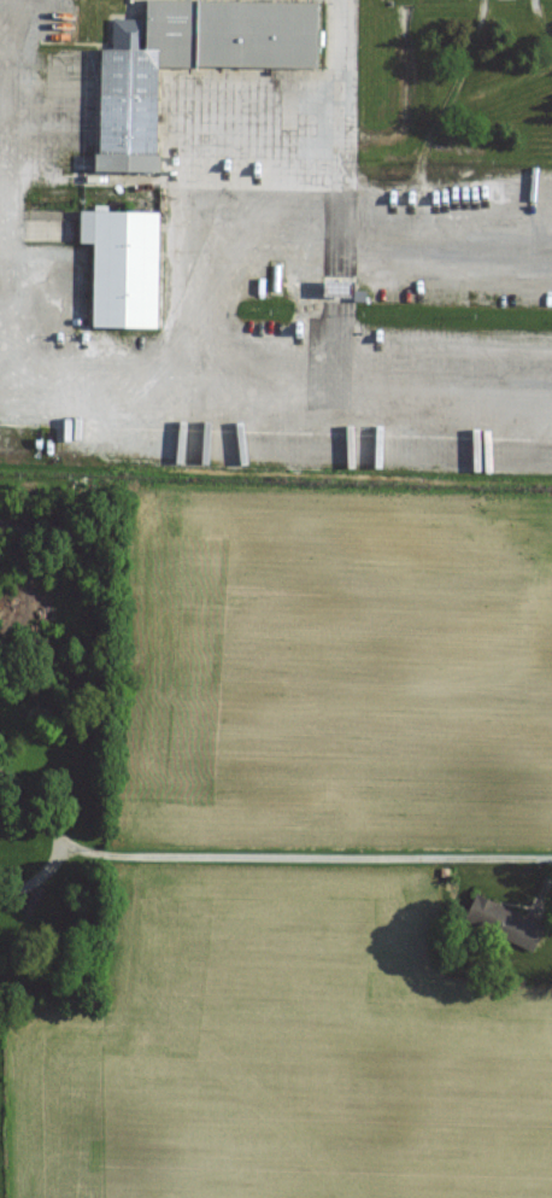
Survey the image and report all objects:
building: (186, 64)
road: (340, 224)
building: (119, 269)
building: (336, 291)
road: (41, 817)
road: (318, 858)
road: (42, 871)
building: (503, 923)

